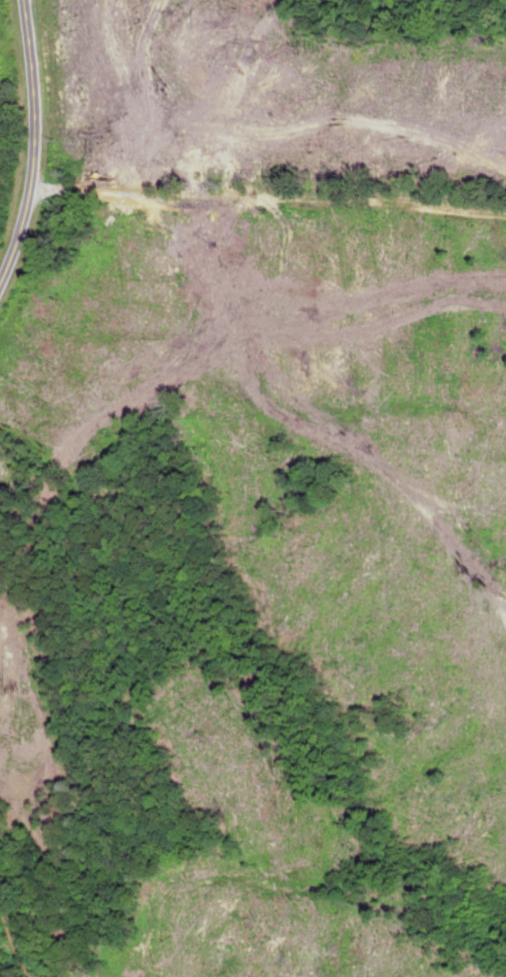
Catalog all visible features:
road: (34, 144)

